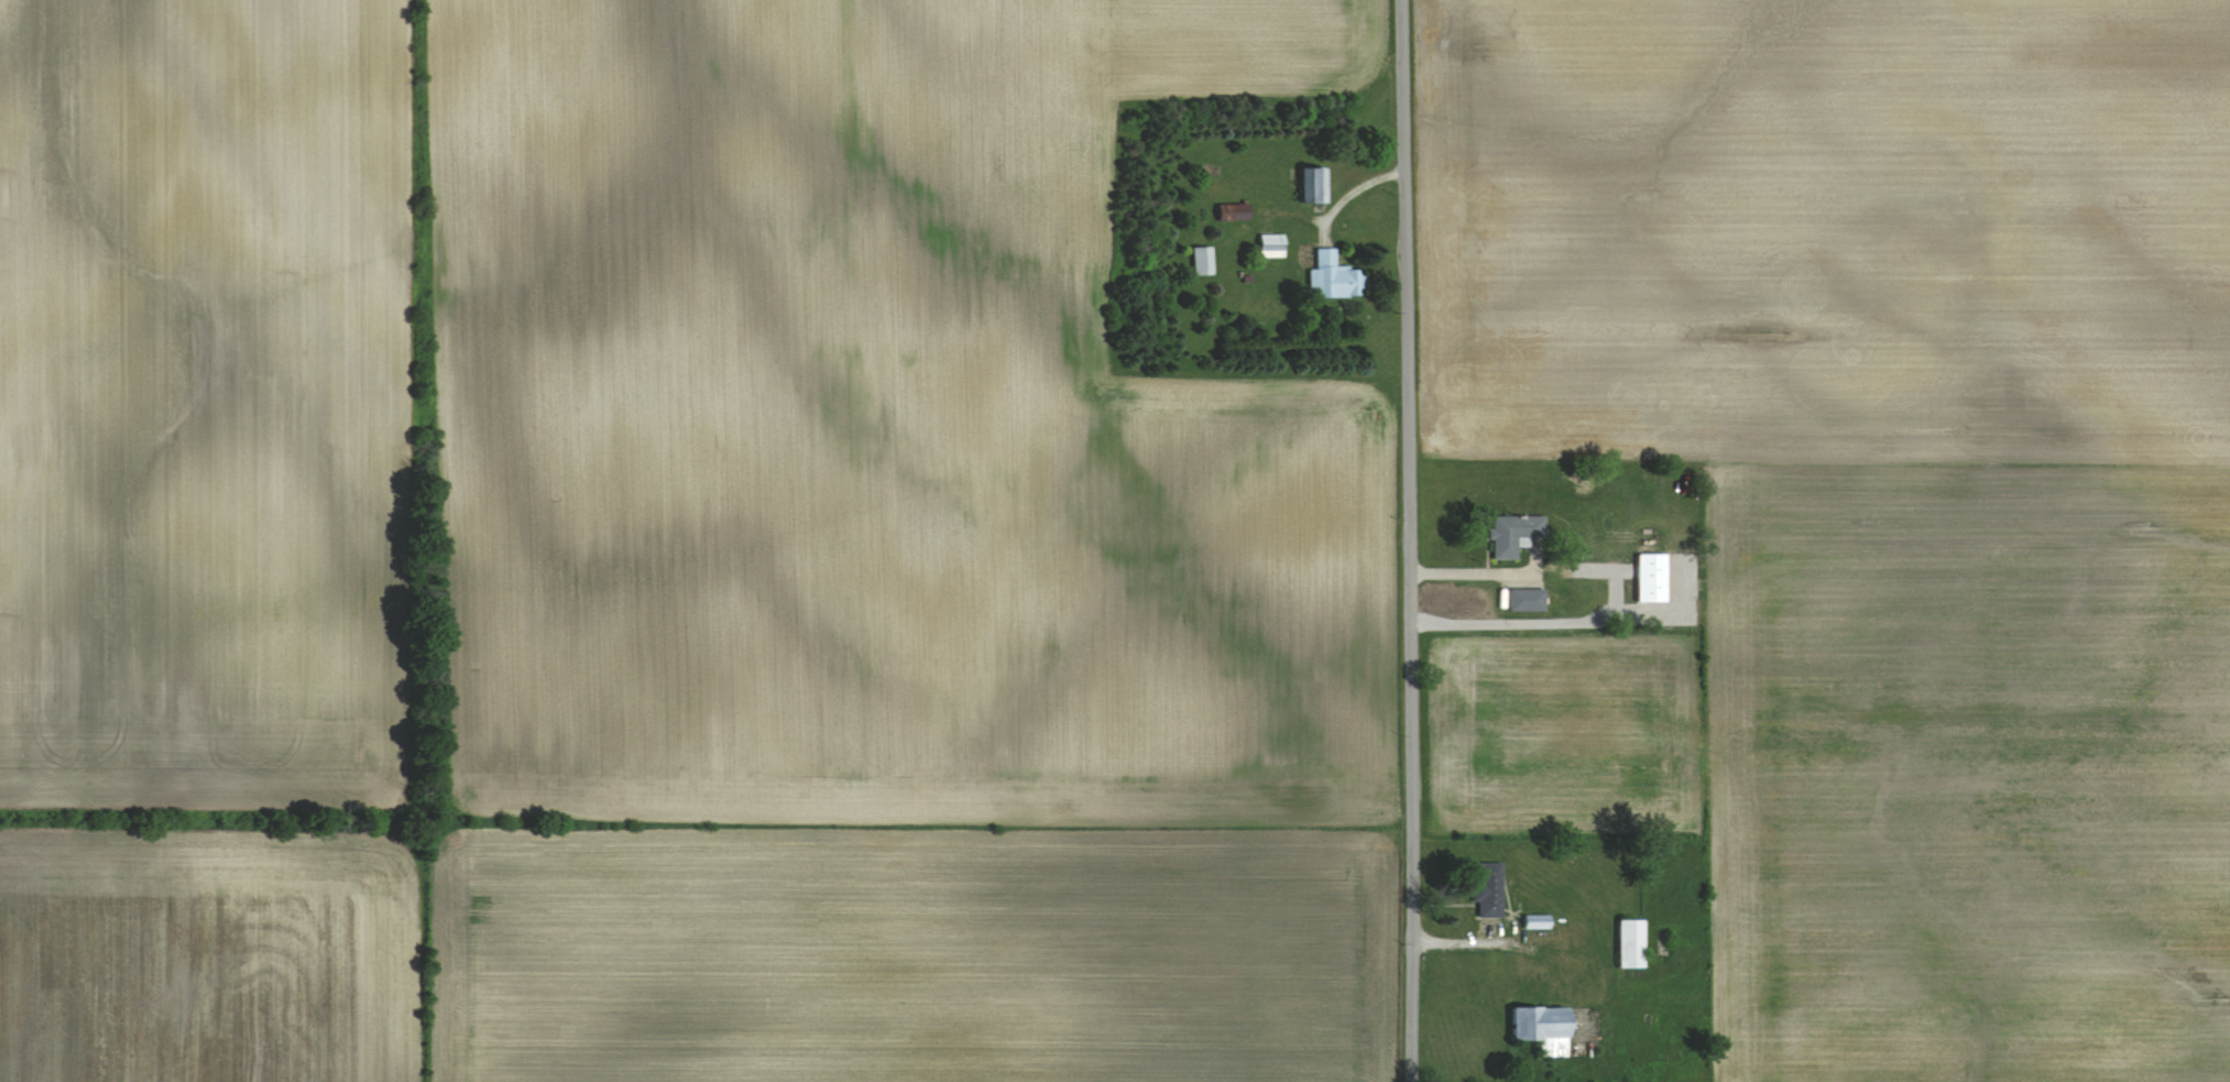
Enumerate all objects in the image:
building: (1313, 184)
building: (1232, 211)
building: (1270, 244)
building: (1201, 260)
building: (1333, 277)
building: (1512, 534)
road: (1409, 540)
building: (1651, 578)
road: (1615, 591)
building: (1488, 890)
building: (1535, 922)
building: (1629, 943)
building: (1541, 1029)

